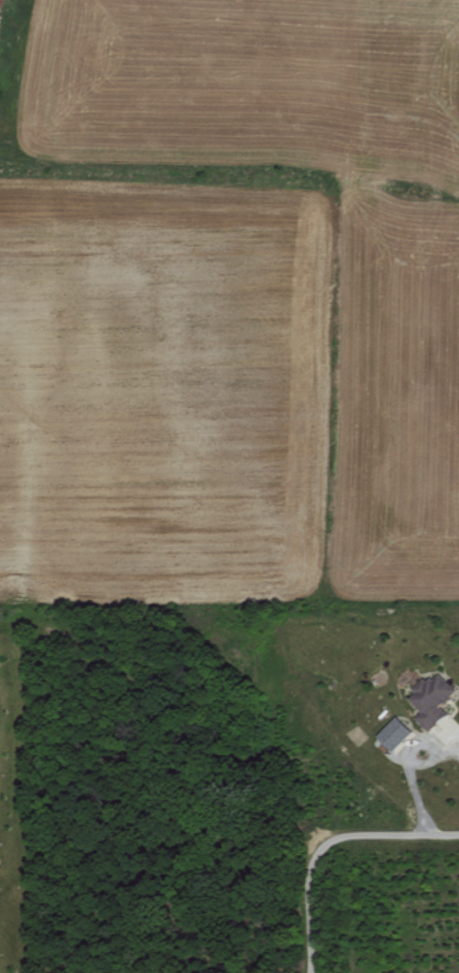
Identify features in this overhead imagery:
building: (429, 696)
building: (391, 730)
road: (452, 735)
road: (319, 836)

